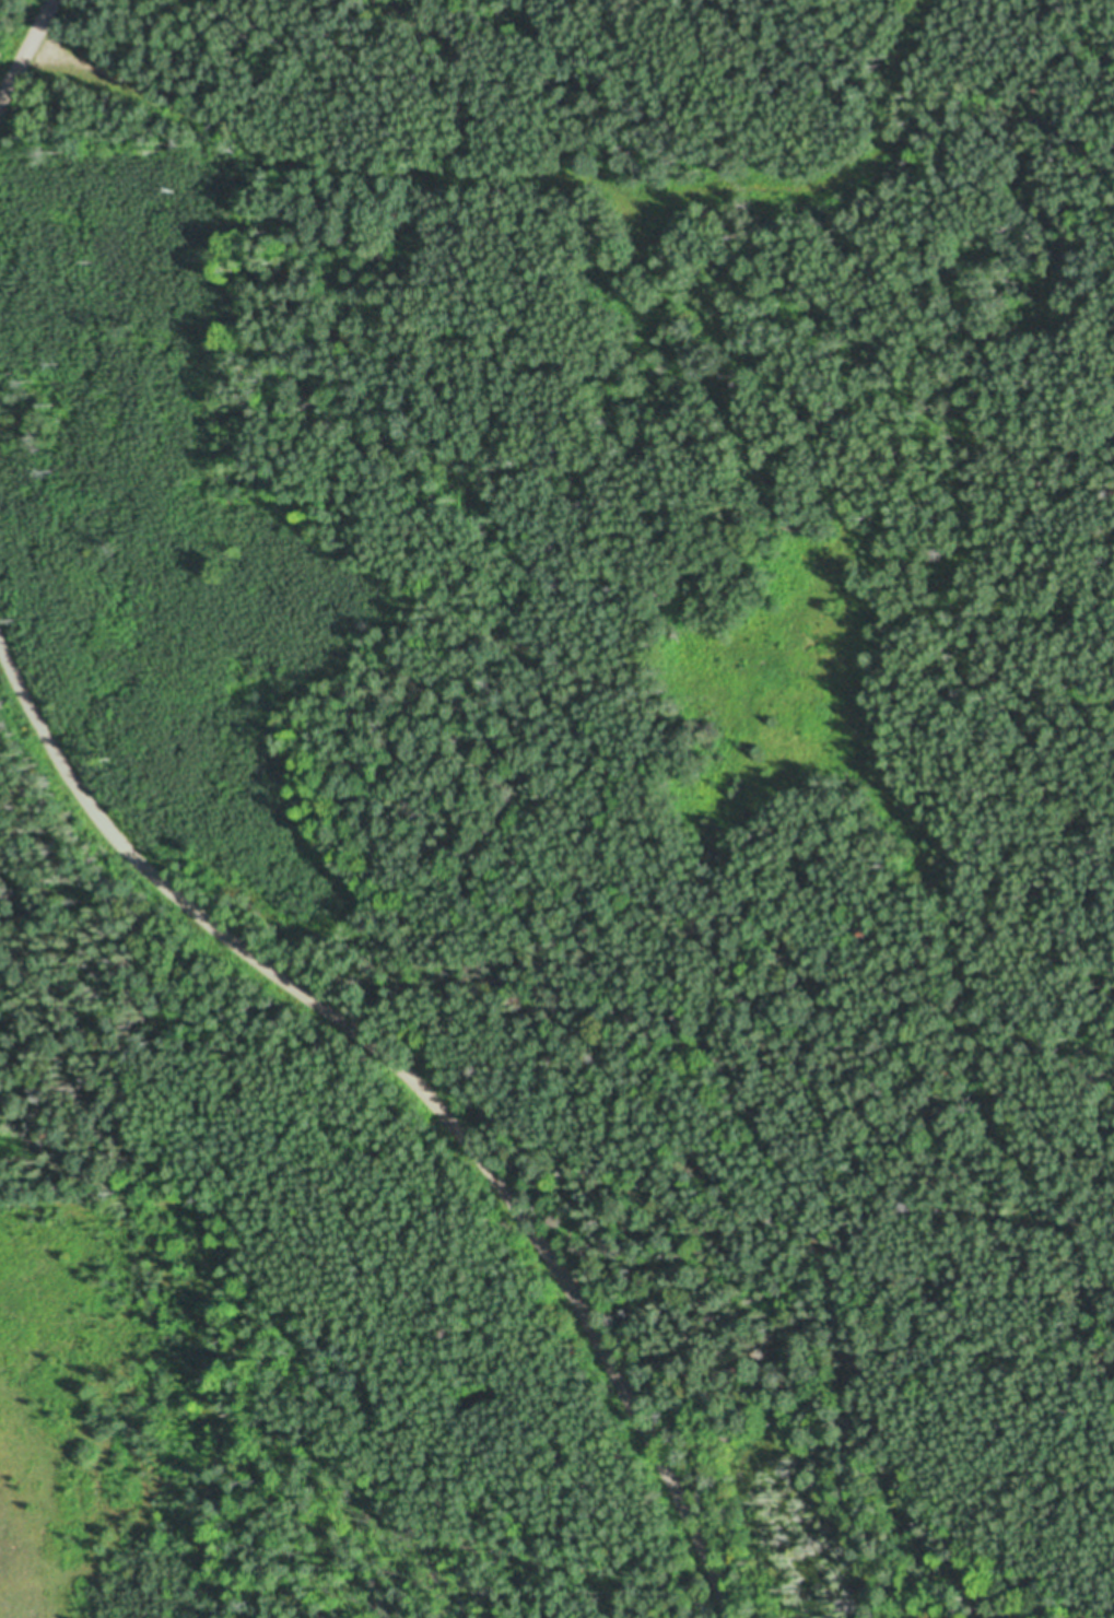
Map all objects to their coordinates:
road: (14, 36)
road: (417, 1091)

